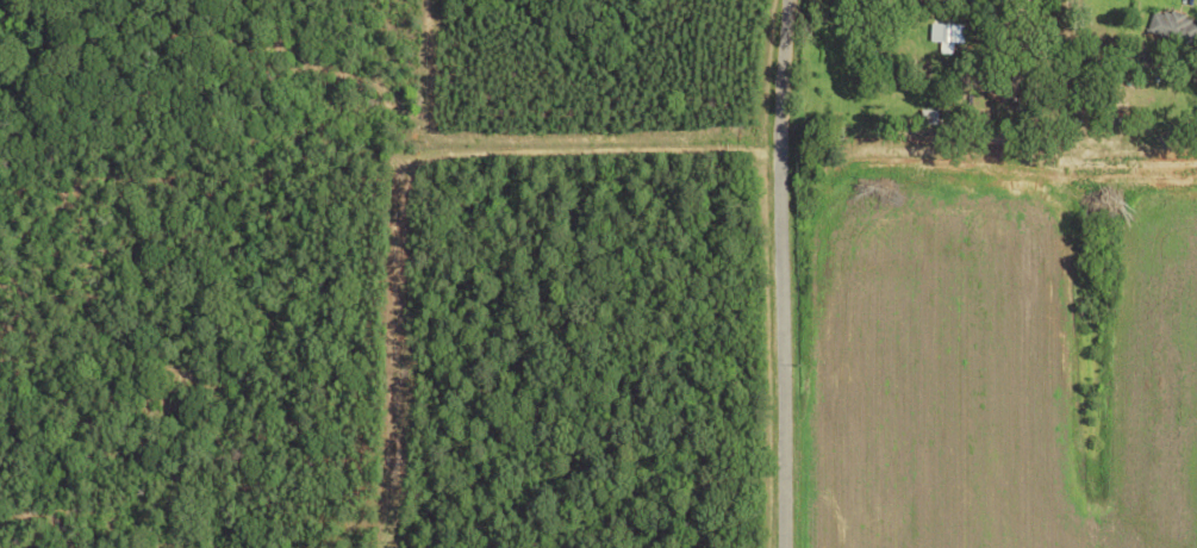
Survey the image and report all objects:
road: (1185, 4)
building: (946, 32)
road: (781, 274)

